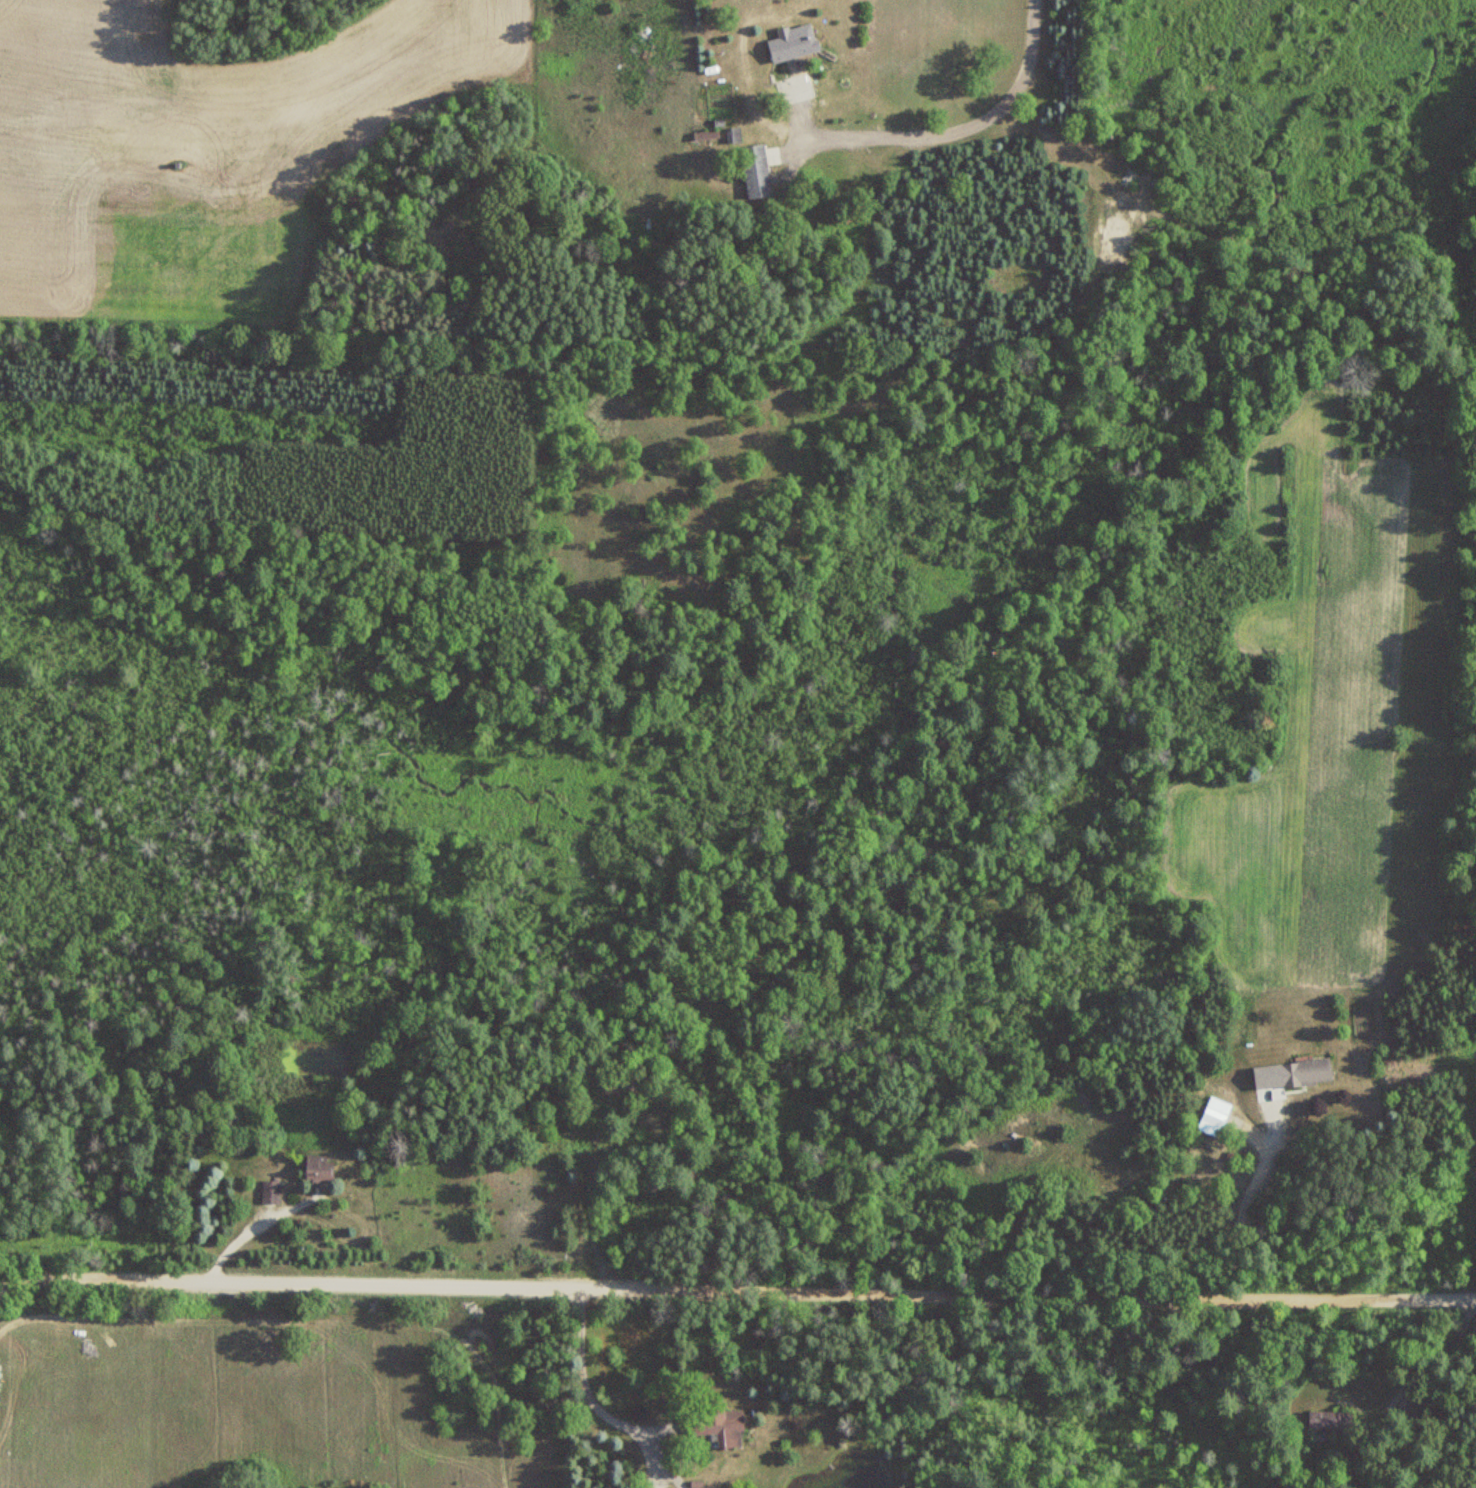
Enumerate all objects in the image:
building: (792, 43)
road: (959, 123)
building: (705, 135)
building: (754, 171)
building: (1305, 1071)
building: (1213, 1116)
building: (318, 1169)
building: (270, 1191)
road: (1245, 1209)
road: (249, 1231)
road: (737, 1287)
road: (594, 1405)
building: (1329, 1421)
building: (720, 1423)

